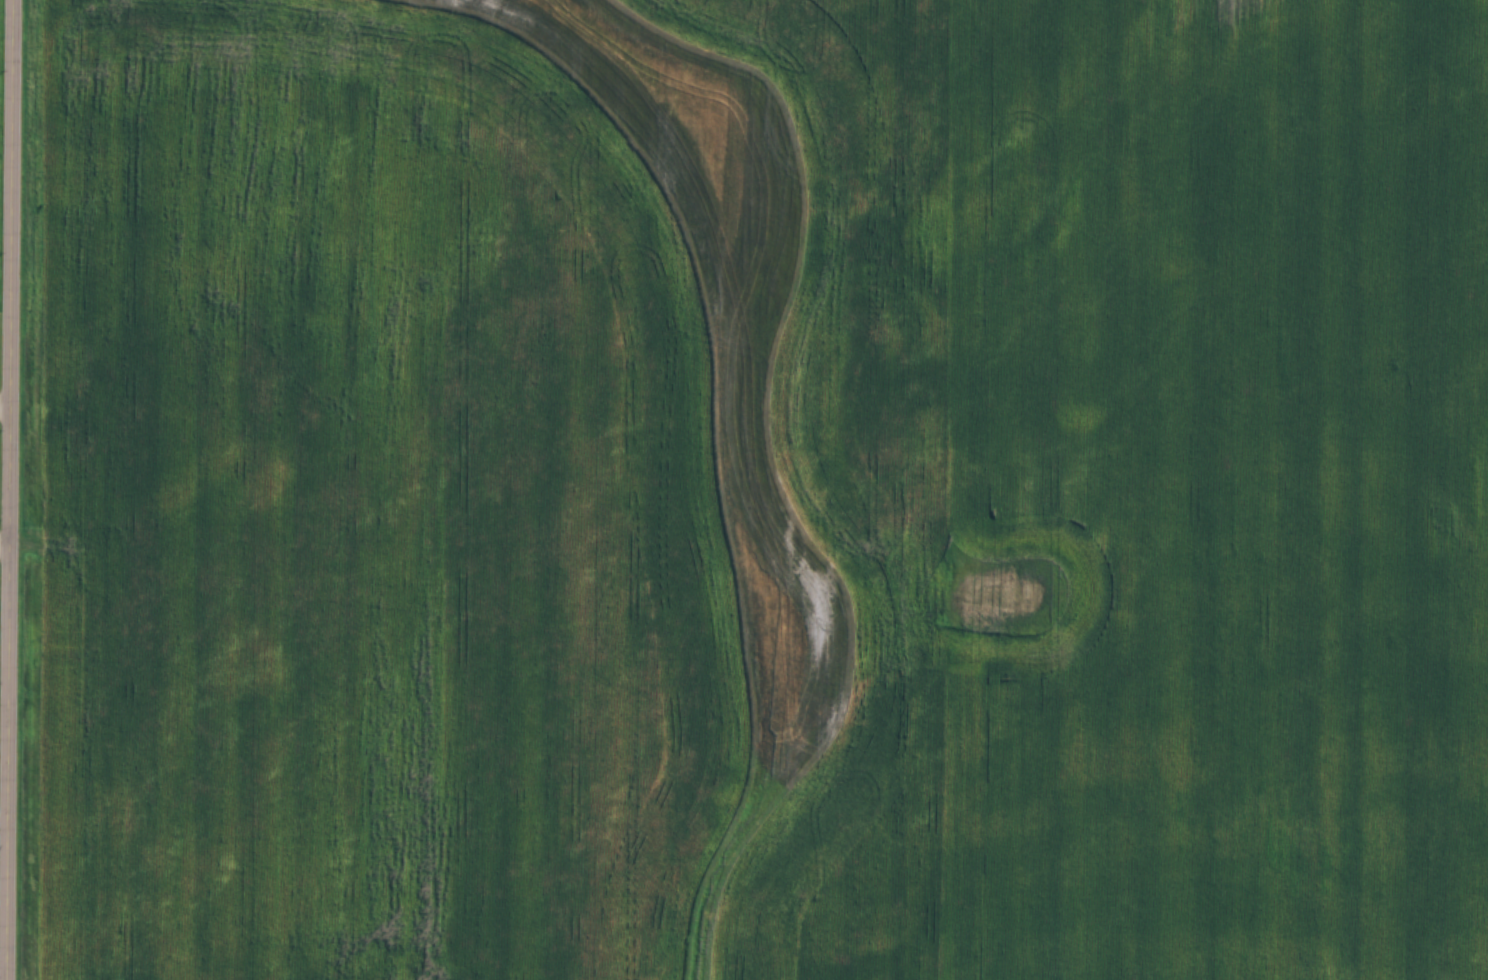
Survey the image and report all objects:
road: (12, 489)
road: (6, 548)

